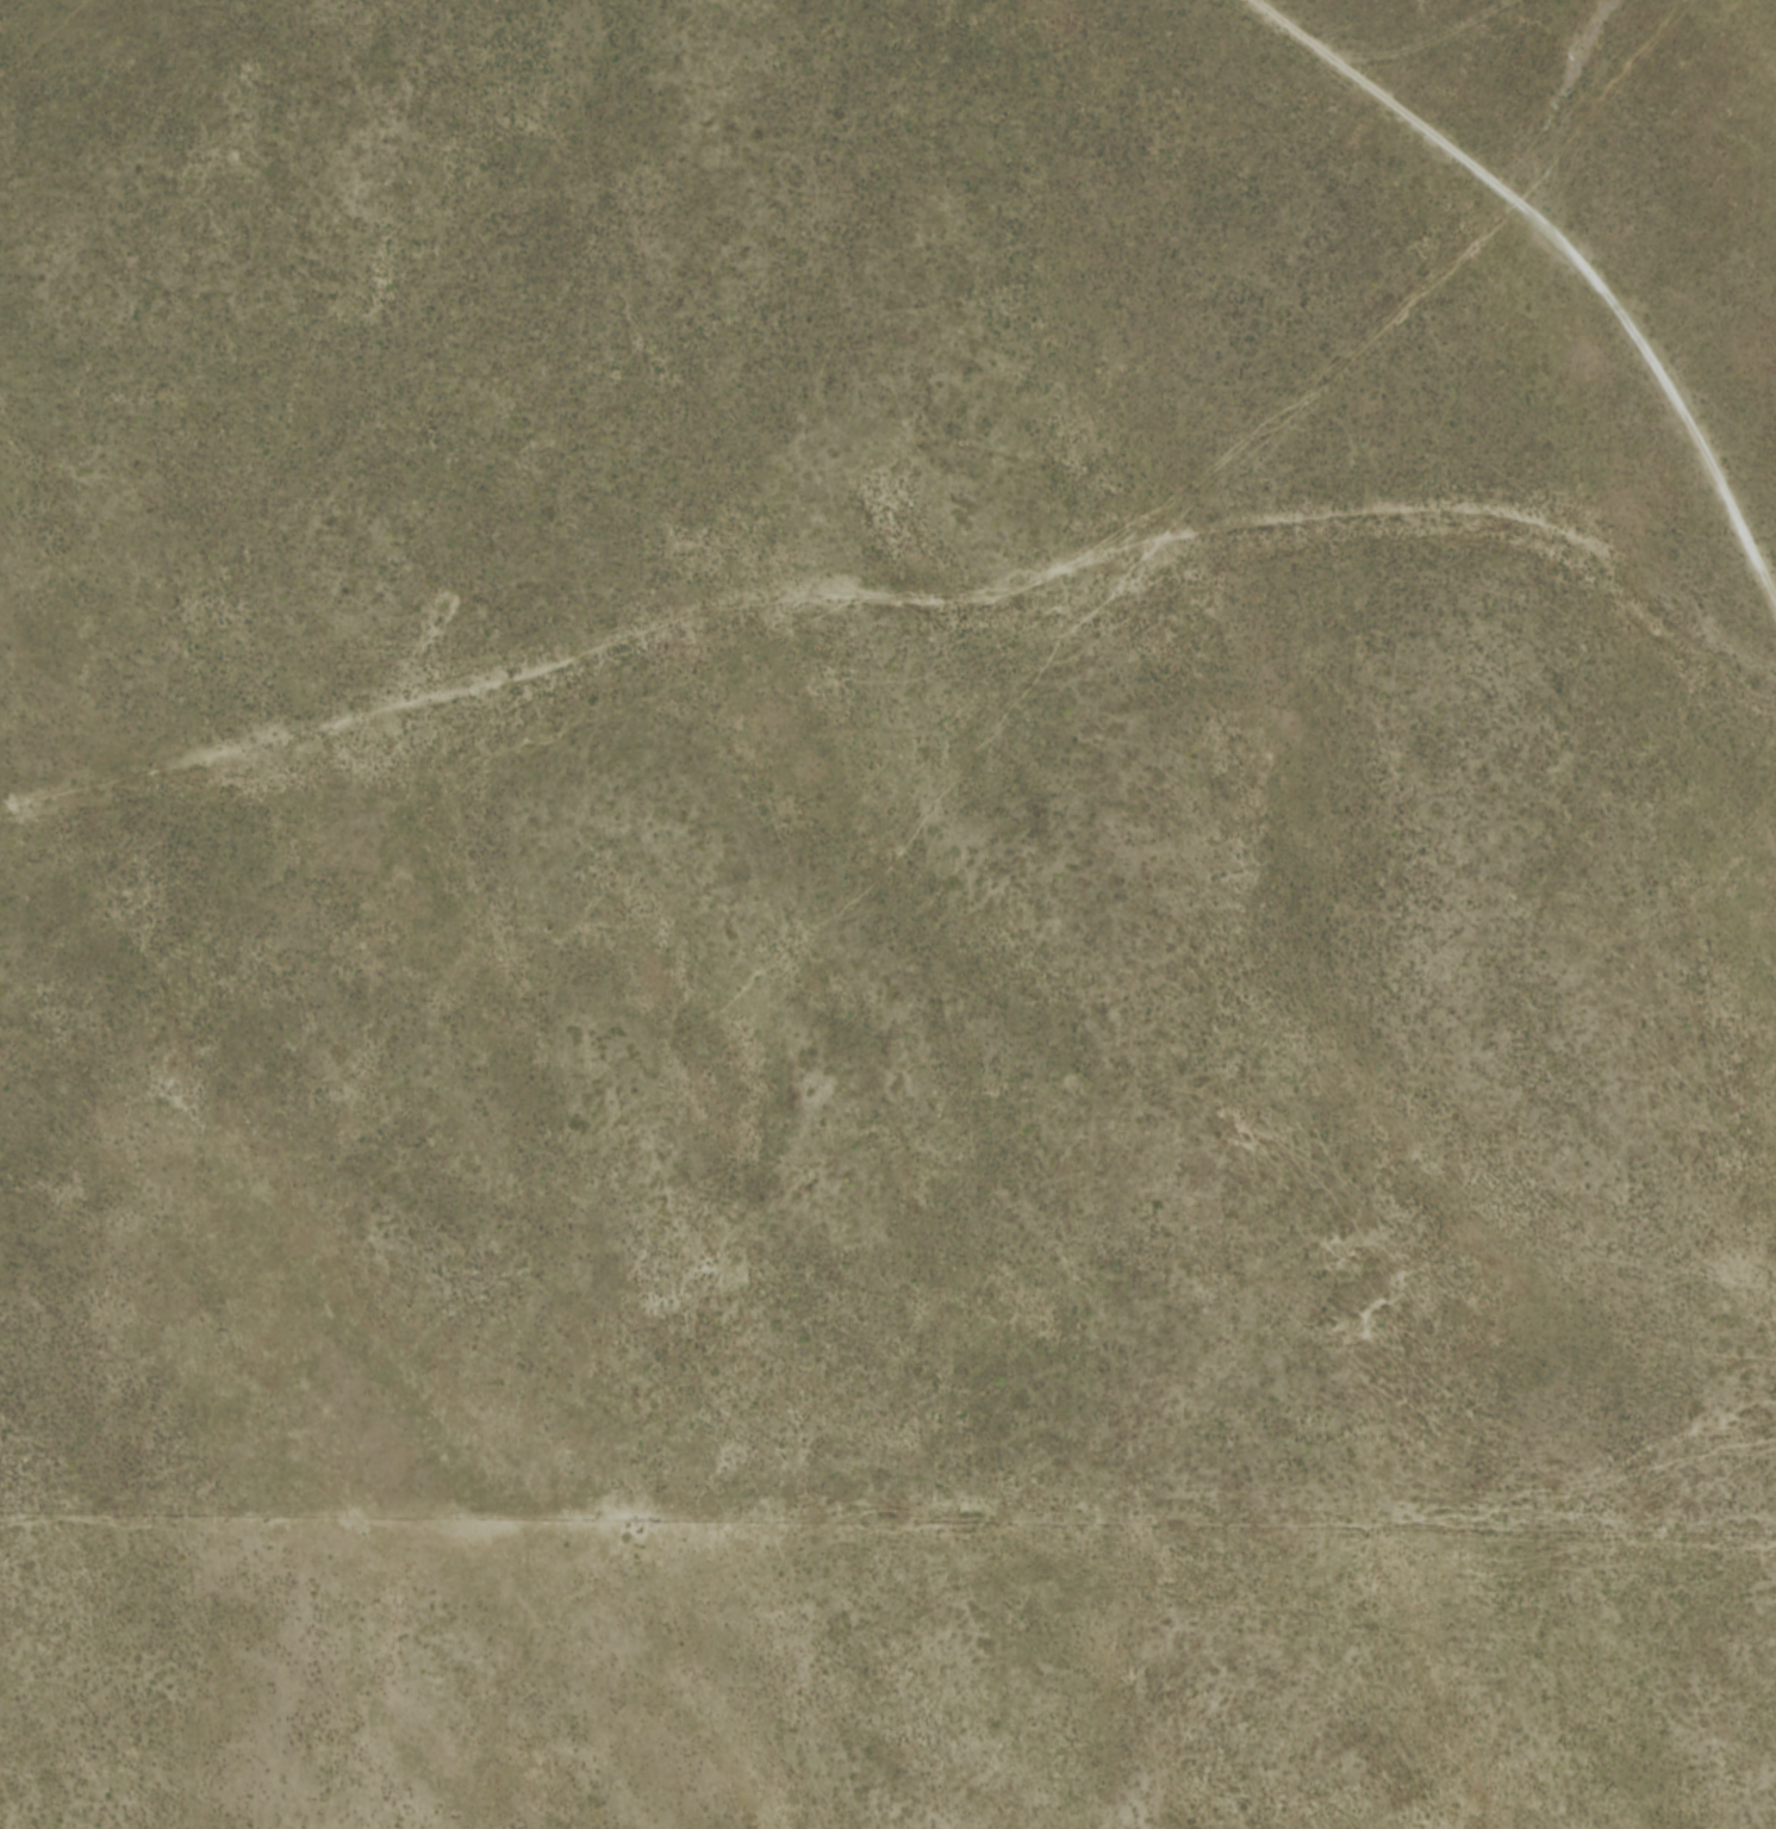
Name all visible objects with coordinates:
road: (1569, 253)

